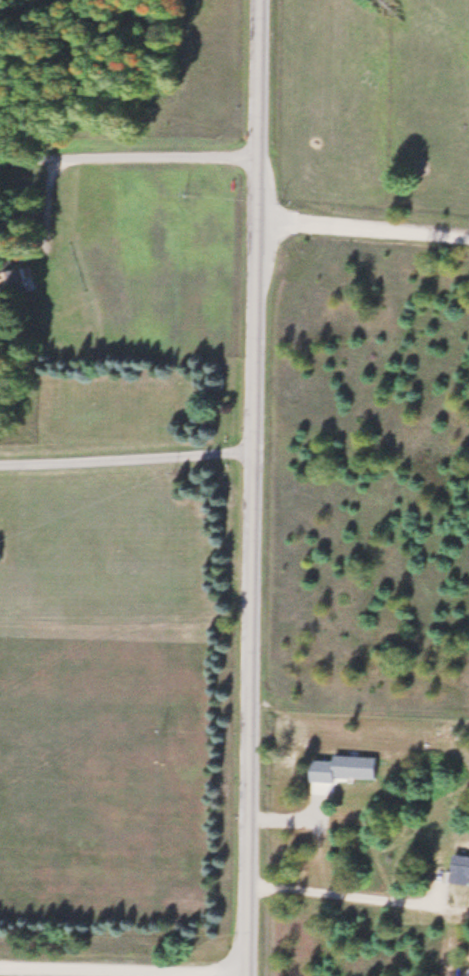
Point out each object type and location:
road: (131, 161)
road: (365, 225)
building: (22, 279)
road: (257, 488)
road: (131, 496)
road: (122, 966)

